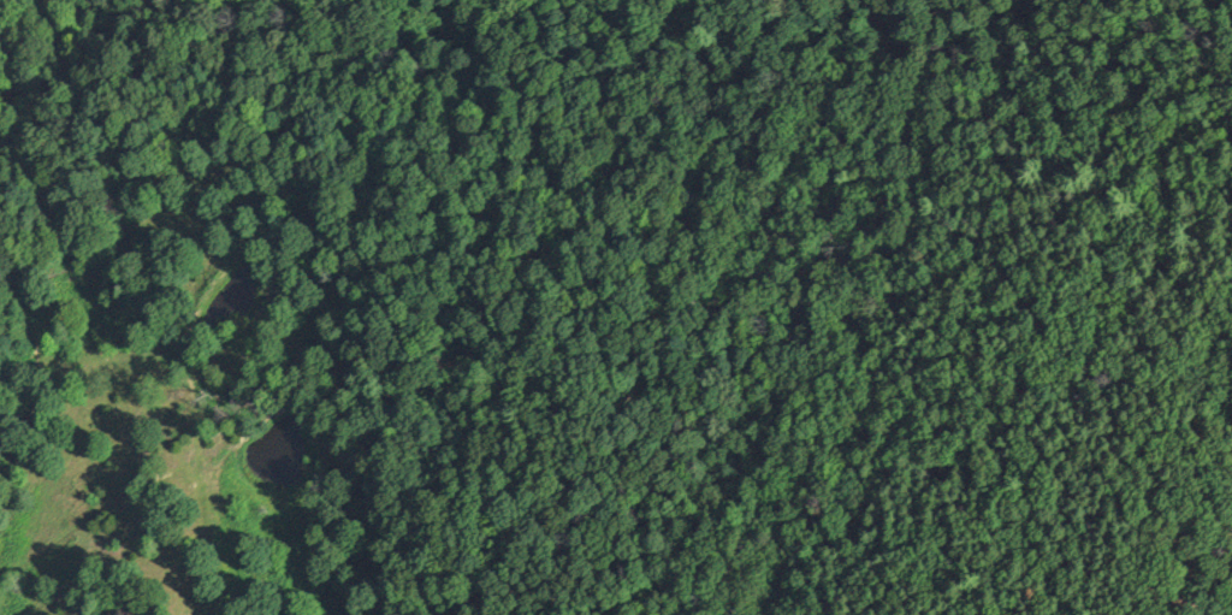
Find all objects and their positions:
road: (88, 518)

